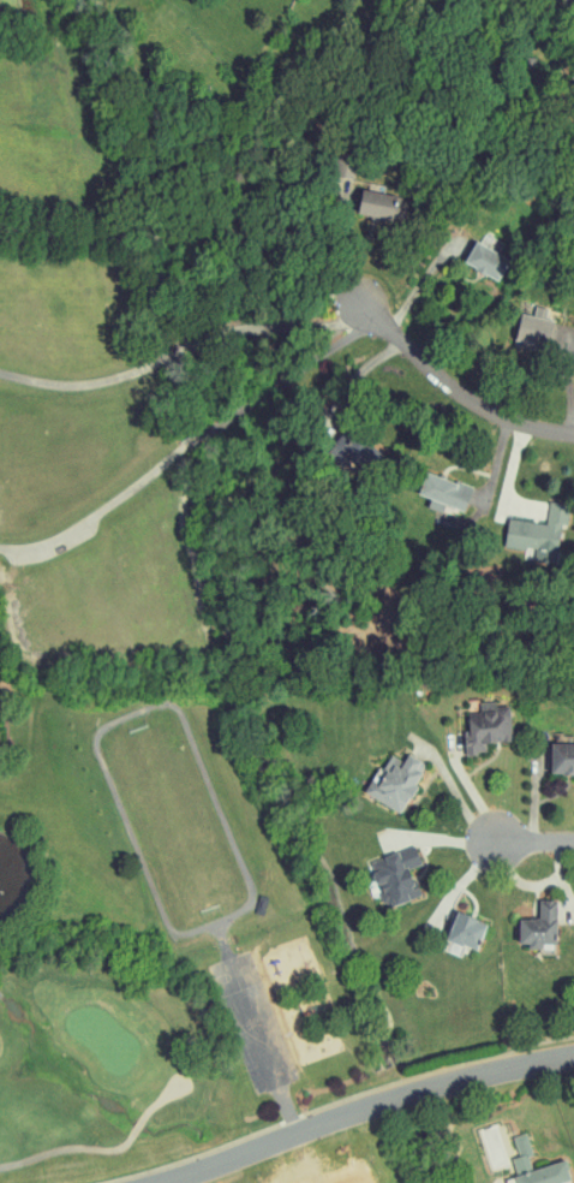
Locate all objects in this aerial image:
park: (41, 16)
building: (381, 206)
road: (195, 227)
building: (486, 261)
road: (421, 286)
building: (545, 332)
road: (189, 349)
road: (365, 378)
road: (459, 388)
road: (195, 440)
building: (444, 494)
building: (537, 531)
building: (488, 726)
building: (562, 756)
building: (397, 780)
road: (453, 787)
road: (471, 787)
road: (536, 793)
road: (536, 840)
road: (440, 842)
building: (396, 875)
road: (519, 880)
road: (562, 881)
road: (461, 882)
building: (540, 925)
building: (466, 929)
park: (112, 1072)
road: (492, 1072)
road: (287, 1136)
building: (521, 1158)

